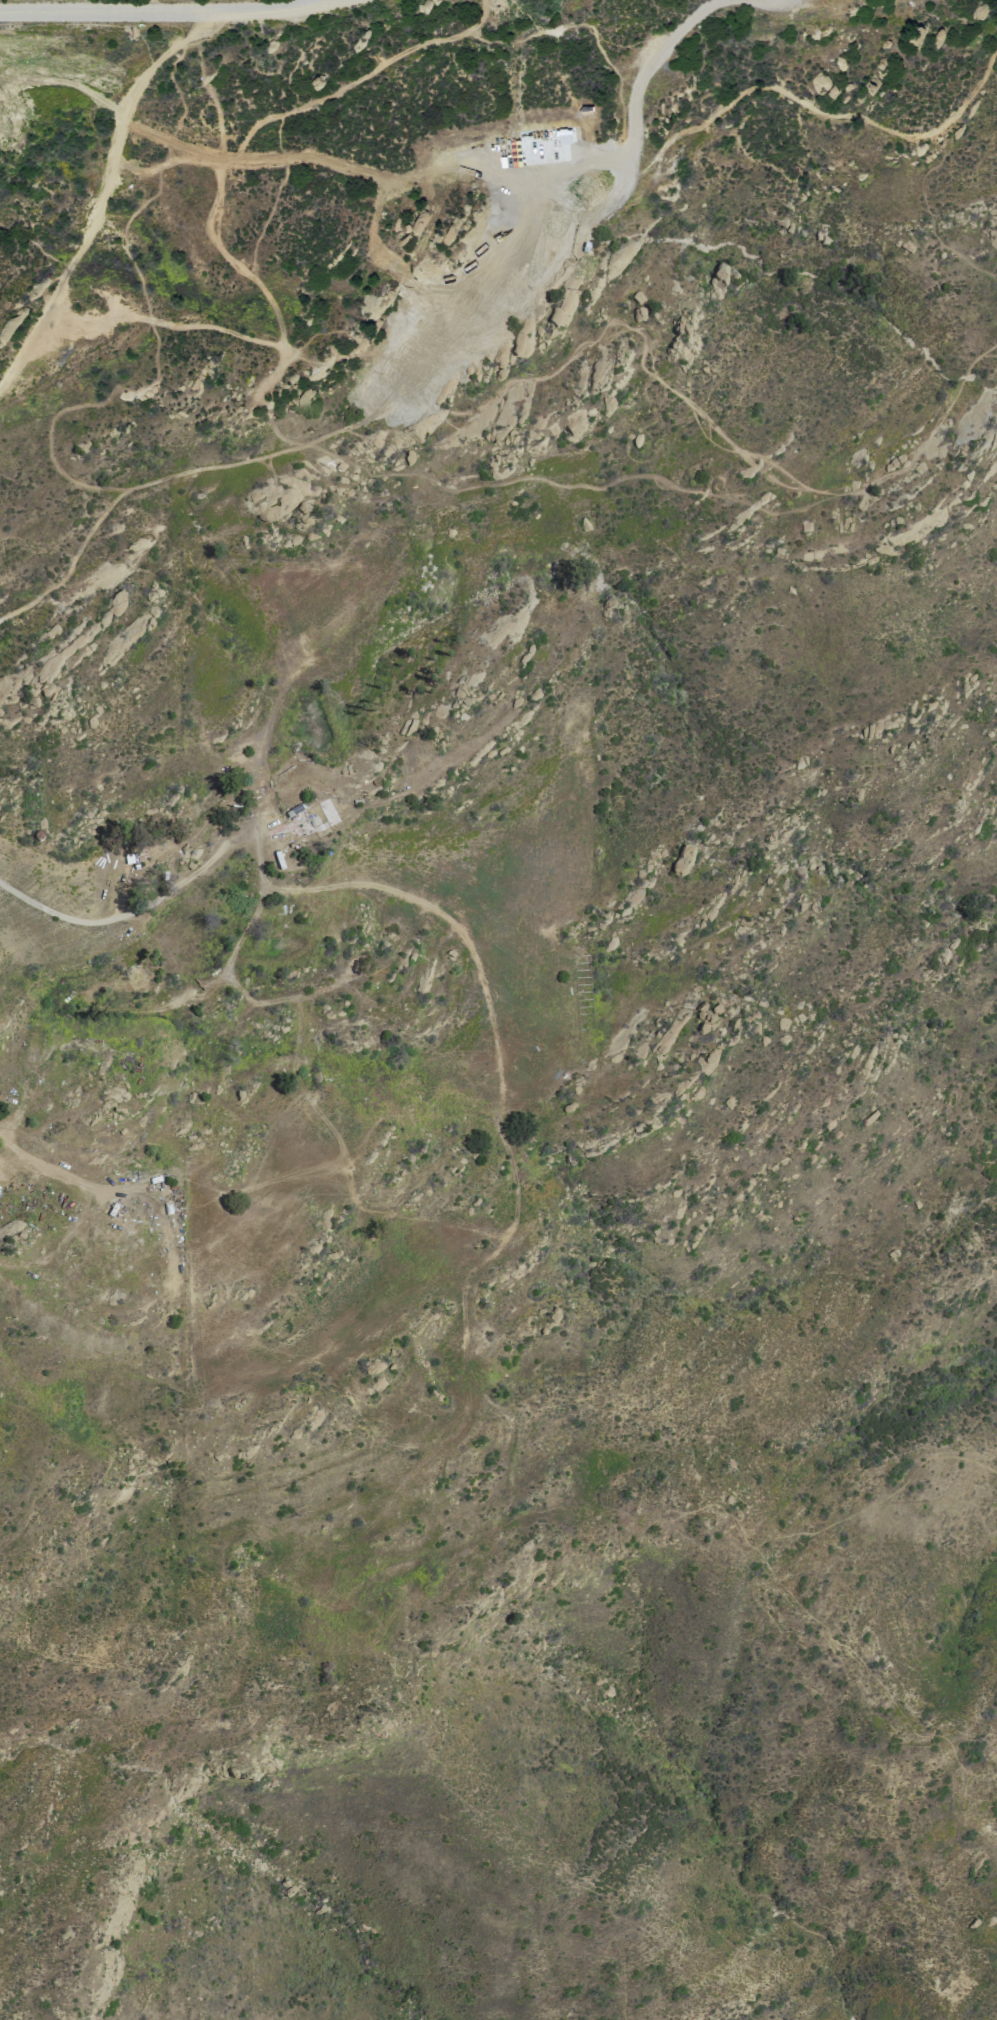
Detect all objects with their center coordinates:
road: (770, 0)
road: (166, 11)
road: (360, 75)
road: (816, 109)
road: (271, 124)
road: (299, 158)
road: (580, 159)
road: (149, 167)
road: (496, 172)
road: (102, 190)
building: (417, 219)
road: (585, 227)
road: (555, 256)
road: (251, 279)
road: (175, 318)
road: (697, 409)
road: (311, 443)
road: (73, 486)
road: (573, 486)
building: (303, 514)
road: (78, 554)
building: (113, 605)
building: (318, 818)
road: (346, 820)
road: (259, 891)
road: (138, 908)
building: (275, 915)
building: (137, 978)
road: (141, 1010)
road: (505, 1144)
road: (33, 1261)
building: (372, 1367)

